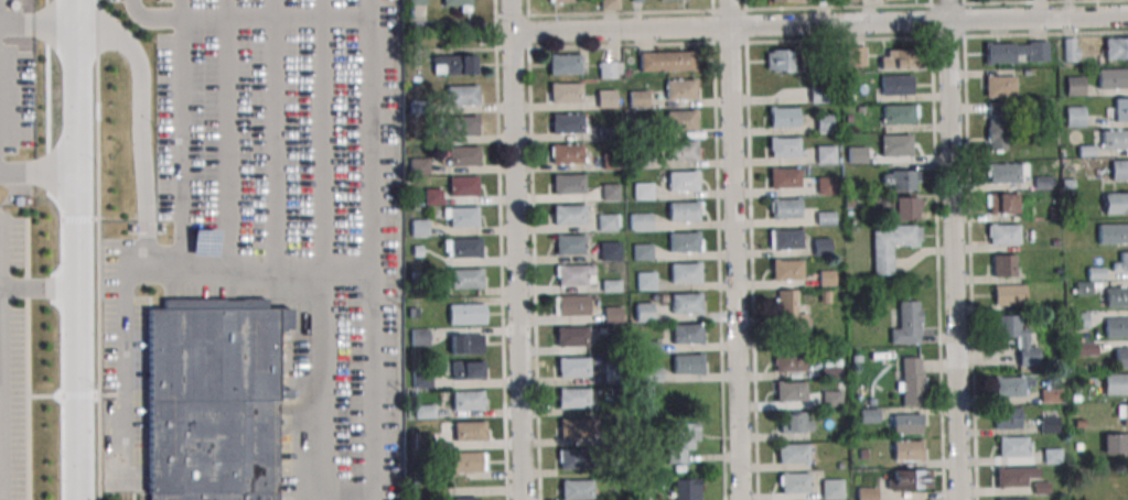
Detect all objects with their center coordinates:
building: (673, 0)
building: (891, 0)
building: (415, 1)
building: (563, 1)
building: (637, 1)
building: (787, 1)
building: (455, 3)
building: (608, 4)
road: (827, 8)
road: (948, 9)
road: (727, 12)
road: (508, 15)
road: (245, 17)
road: (1038, 17)
road: (837, 22)
road: (617, 28)
road: (828, 41)
building: (1117, 48)
building: (1071, 50)
building: (1017, 51)
building: (855, 55)
building: (898, 58)
building: (666, 61)
building: (781, 61)
building: (565, 63)
building: (453, 64)
building: (608, 68)
building: (1028, 73)
parking lot: (17, 75)
building: (1113, 78)
building: (896, 84)
building: (999, 85)
building: (1074, 85)
building: (679, 88)
building: (565, 91)
building: (461, 94)
building: (820, 95)
building: (606, 98)
building: (637, 98)
building: (419, 107)
building: (996, 108)
building: (857, 110)
building: (1121, 110)
building: (899, 113)
building: (783, 116)
building: (1076, 117)
building: (680, 119)
building: (567, 122)
building: (824, 122)
building: (463, 126)
building: (638, 129)
building: (608, 133)
road: (178, 134)
road: (227, 134)
road: (271, 134)
road: (319, 134)
road: (370, 134)
building: (997, 134)
building: (1114, 139)
building: (895, 144)
building: (785, 148)
building: (683, 150)
building: (1087, 151)
building: (567, 153)
building: (825, 154)
building: (857, 154)
building: (462, 155)
building: (642, 160)
building: (612, 162)
building: (419, 166)
building: (1119, 169)
road: (39, 170)
building: (1006, 172)
building: (783, 177)
building: (903, 180)
building: (684, 181)
building: (1043, 183)
building: (567, 184)
building: (828, 185)
building: (1068, 185)
building: (462, 186)
building: (609, 191)
building: (642, 191)
building: (433, 196)
building: (849, 202)
building: (1001, 203)
building: (1116, 203)
building: (785, 208)
building: (906, 208)
building: (684, 210)
building: (568, 214)
building: (1055, 214)
building: (461, 217)
building: (826, 218)
building: (638, 220)
building: (608, 221)
building: (419, 228)
building: (1113, 232)
building: (1003, 233)
building: (785, 238)
road: (147, 240)
building: (684, 241)
building: (1055, 242)
building: (569, 243)
building: (890, 244)
building: (820, 246)
building: (461, 247)
road: (97, 249)
road: (534, 249)
road: (719, 249)
road: (751, 249)
road: (971, 249)
road: (78, 250)
road: (501, 250)
road: (937, 250)
building: (418, 251)
building: (609, 251)
building: (641, 251)
road: (954, 260)
road: (734, 262)
building: (1121, 262)
building: (1002, 264)
road: (515, 265)
building: (786, 269)
building: (1057, 271)
building: (686, 272)
building: (1096, 273)
building: (574, 274)
building: (416, 275)
building: (465, 278)
building: (827, 279)
building: (645, 281)
building: (611, 286)
road: (39, 289)
building: (1084, 289)
building: (1009, 294)
building: (1117, 296)
building: (825, 297)
building: (685, 303)
building: (571, 305)
building: (644, 312)
building: (792, 312)
building: (465, 313)
building: (413, 314)
building: (612, 314)
building: (1078, 320)
building: (906, 324)
building: (1116, 327)
building: (686, 334)
building: (419, 336)
building: (1016, 336)
building: (572, 338)
building: (468, 345)
building: (649, 348)
building: (1085, 348)
building: (1121, 357)
road: (0, 358)
building: (788, 361)
building: (687, 363)
road: (122, 365)
building: (574, 368)
building: (830, 368)
building: (466, 371)
building: (613, 373)
building: (648, 374)
building: (875, 379)
building: (422, 380)
building: (911, 380)
building: (1116, 383)
building: (841, 384)
building: (1008, 387)
building: (644, 390)
building: (789, 391)
building: (1050, 395)
building: (573, 398)
building: (830, 398)
building: (214, 400)
building: (466, 400)
building: (426, 412)
building: (1122, 413)
building: (869, 416)
building: (1007, 417)
building: (796, 423)
building: (906, 423)
building: (1049, 424)
building: (1079, 424)
building: (574, 428)
building: (469, 431)
building: (680, 438)
building: (423, 442)
building: (1115, 443)
building: (1012, 445)
building: (1077, 446)
building: (906, 450)
building: (793, 453)
building: (863, 454)
building: (1052, 456)
building: (572, 458)
building: (466, 460)
building: (1012, 476)
building: (907, 479)
building: (795, 482)
building: (1122, 487)
building: (1041, 488)
building: (577, 489)
building: (686, 489)
building: (832, 490)
road: (347, 492)
building: (866, 493)
building: (462, 498)
building: (1012, 499)

